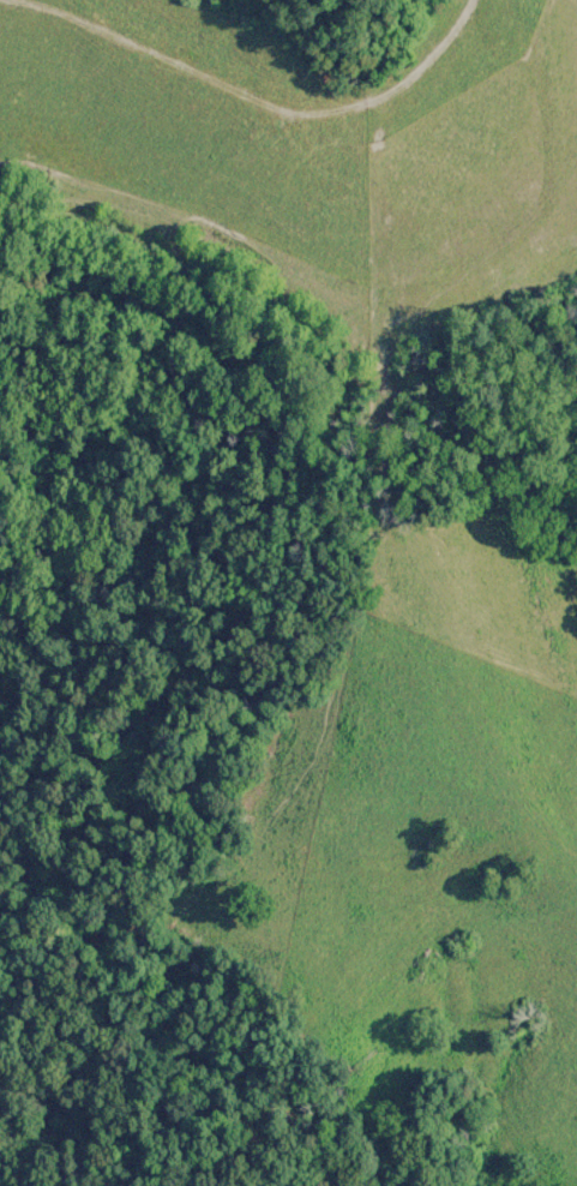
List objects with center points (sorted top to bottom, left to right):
road: (258, 106)

